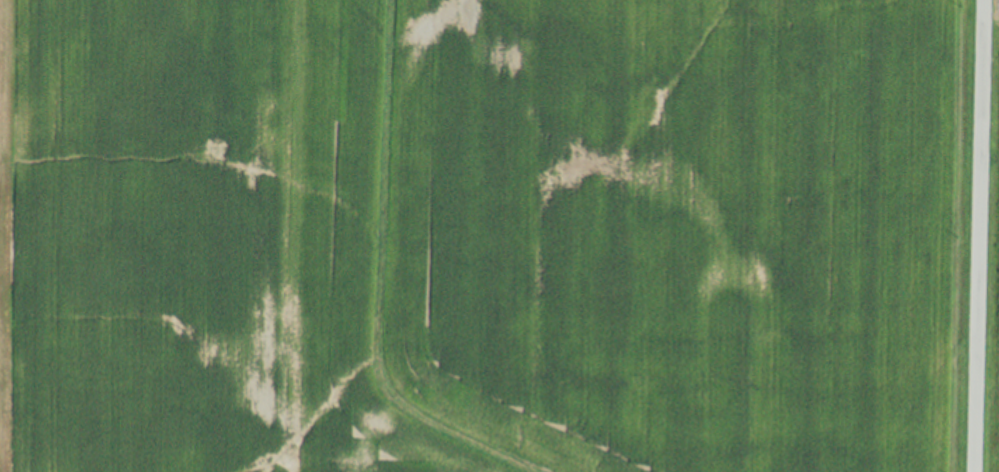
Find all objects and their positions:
road: (980, 236)

